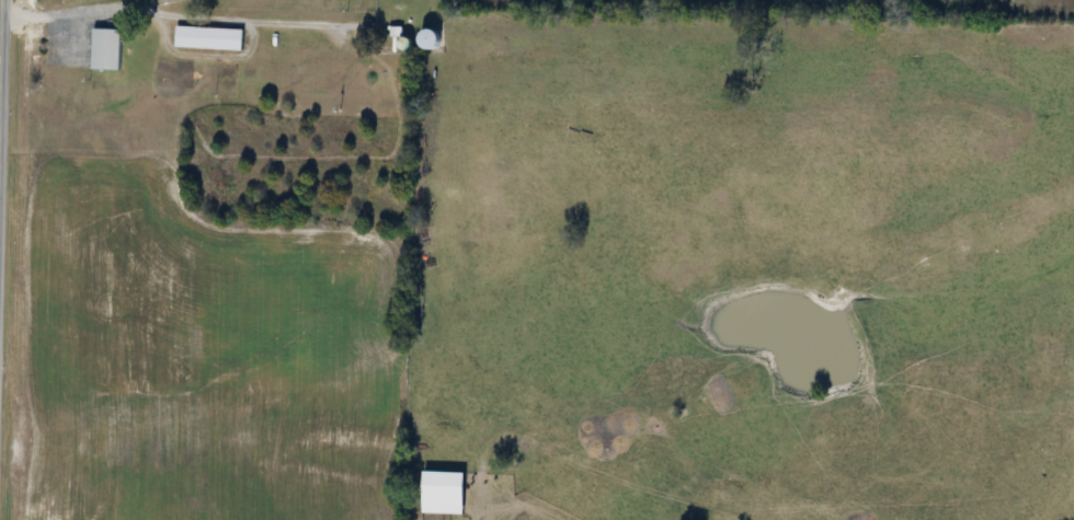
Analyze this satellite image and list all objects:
road: (118, 4)
road: (171, 14)
building: (209, 38)
building: (433, 41)
building: (107, 49)
road: (1, 82)
road: (2, 102)
building: (446, 493)

